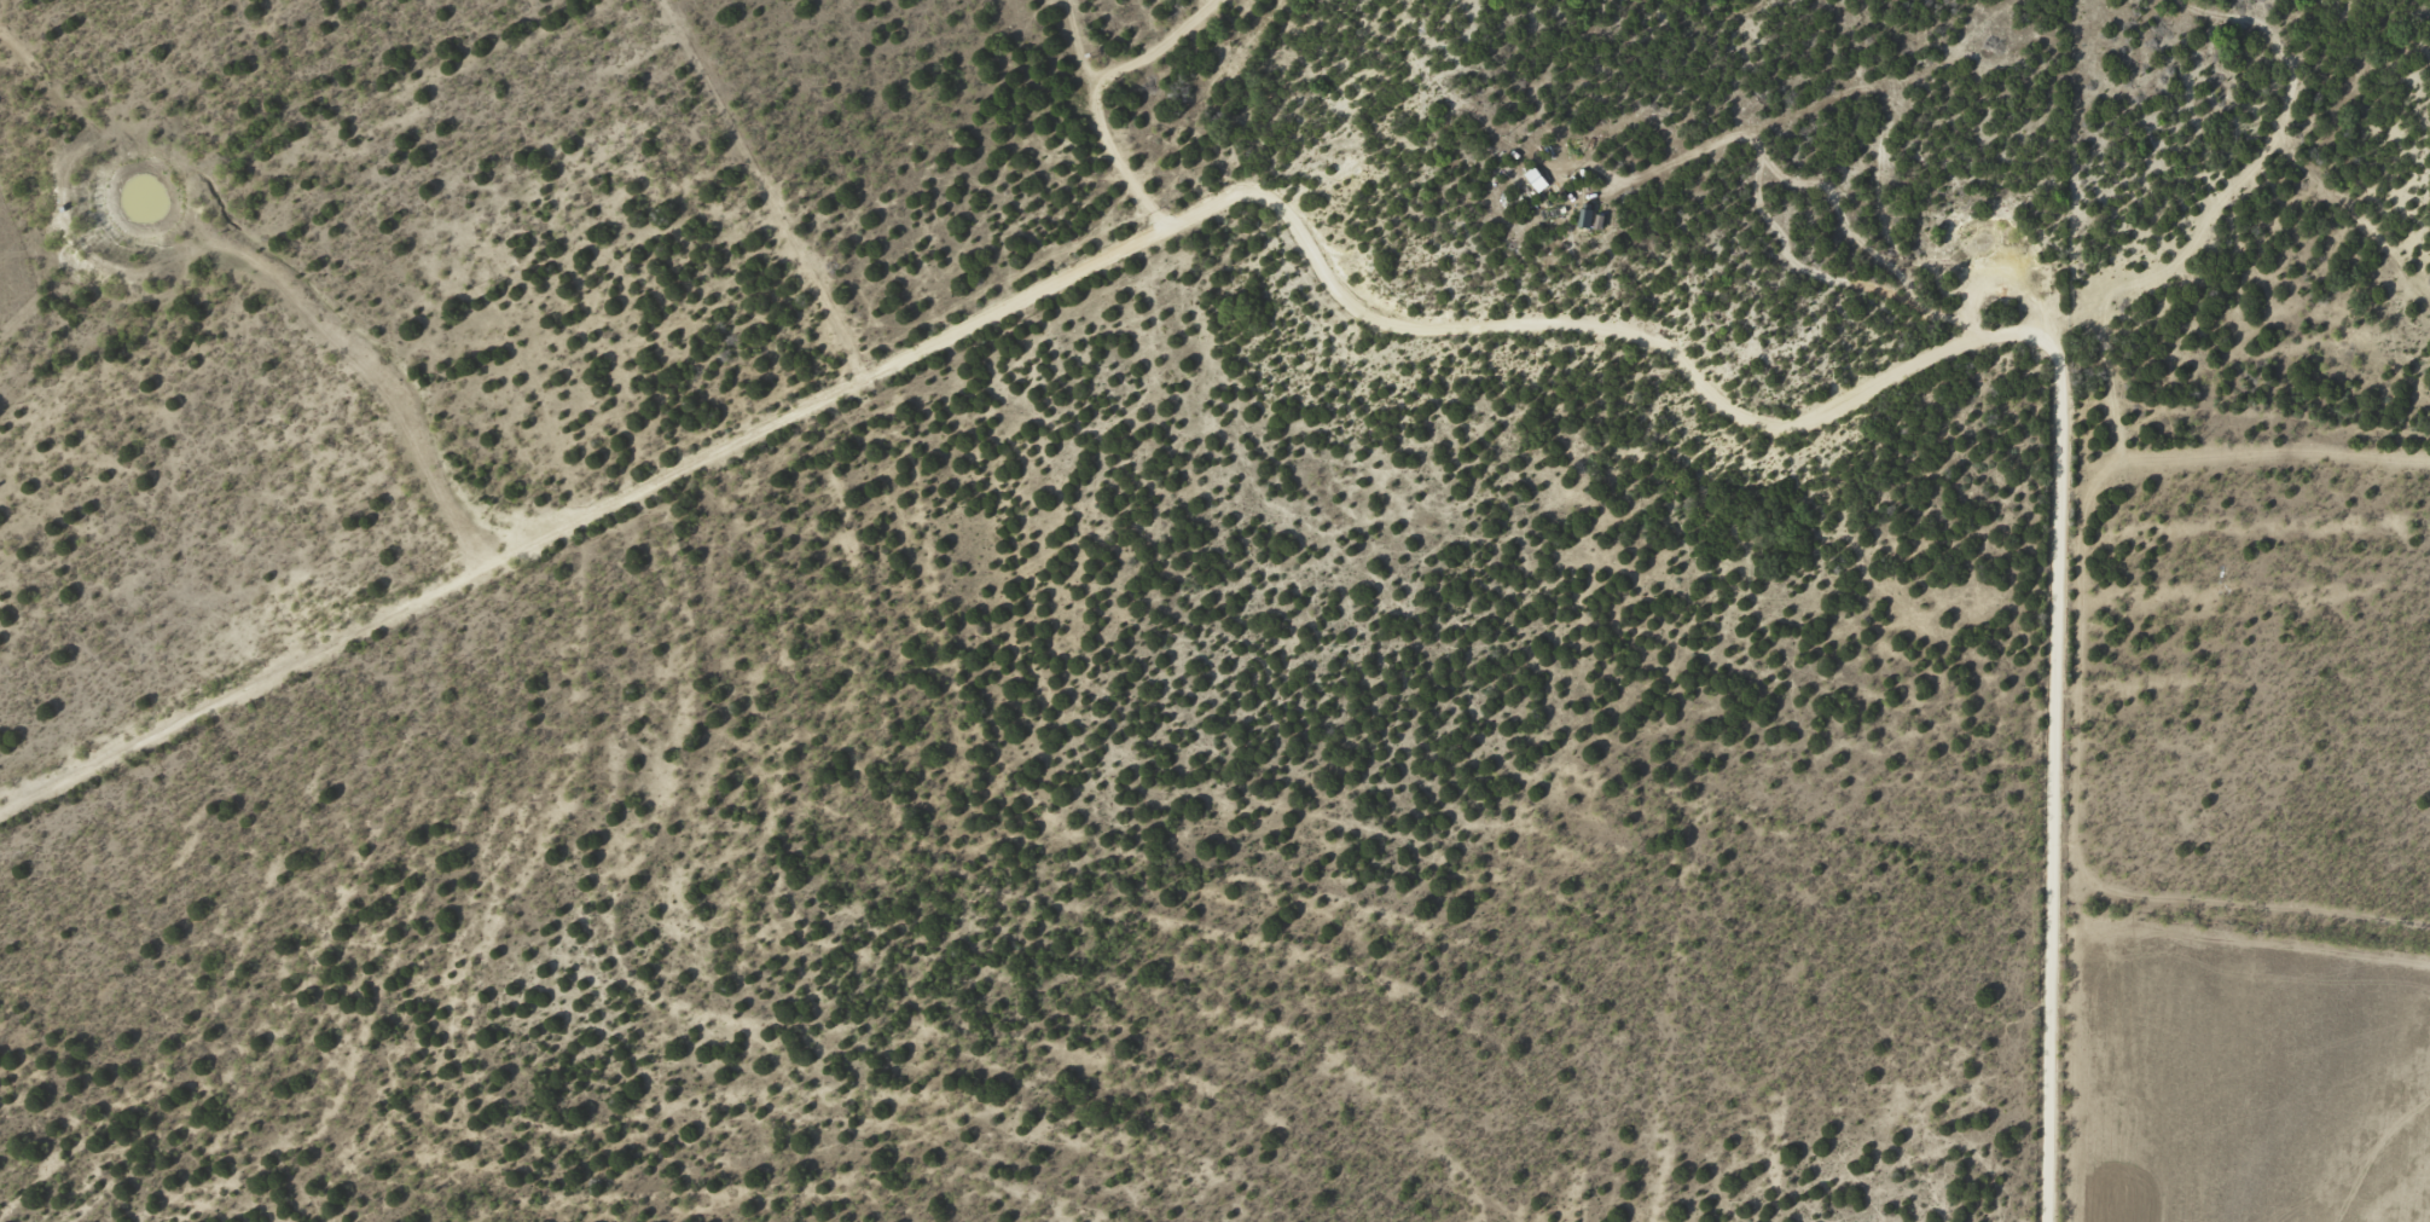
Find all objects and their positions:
road: (1097, 94)
road: (1388, 323)

